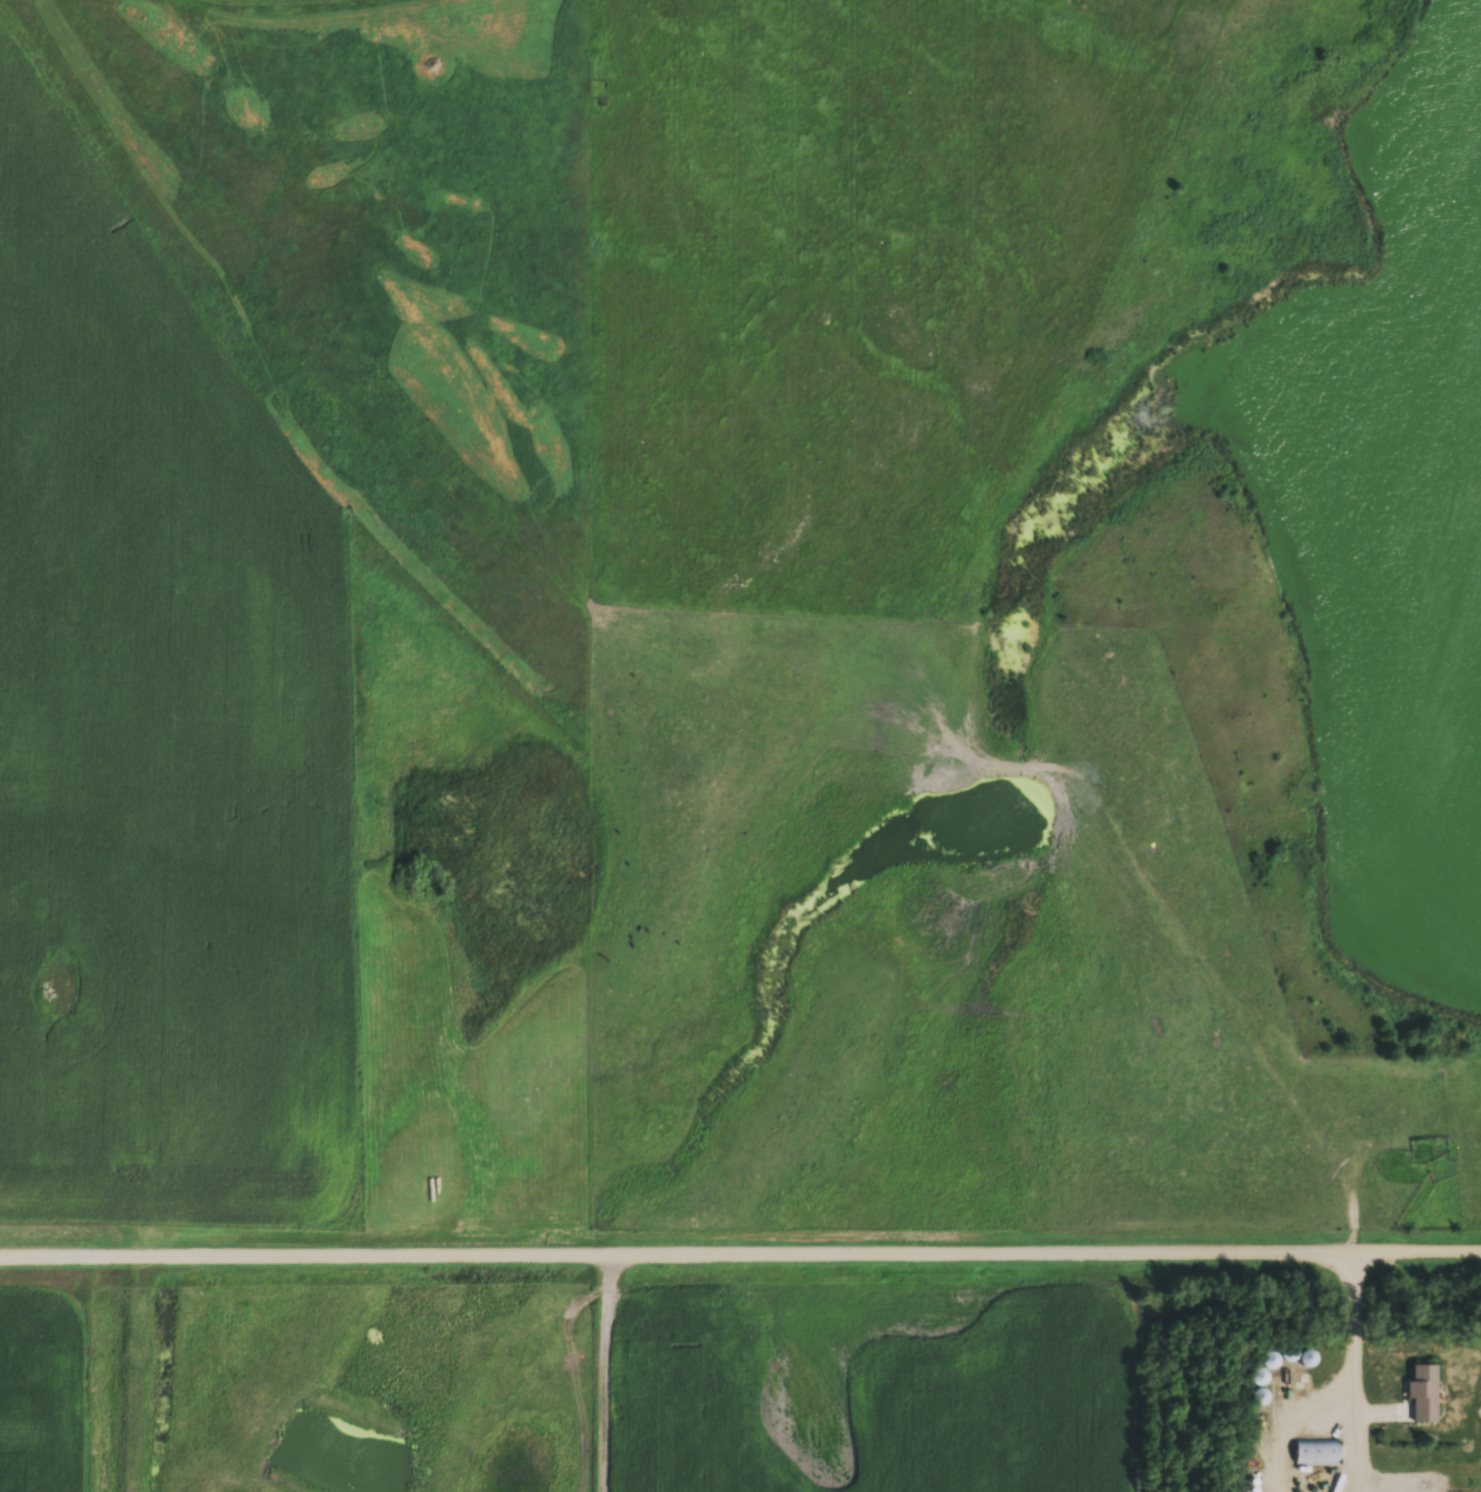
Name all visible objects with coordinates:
road: (740, 1250)
road: (1354, 1352)
building: (1273, 1361)
building: (1261, 1378)
building: (1426, 1395)
building: (1261, 1409)
building: (1317, 1453)

